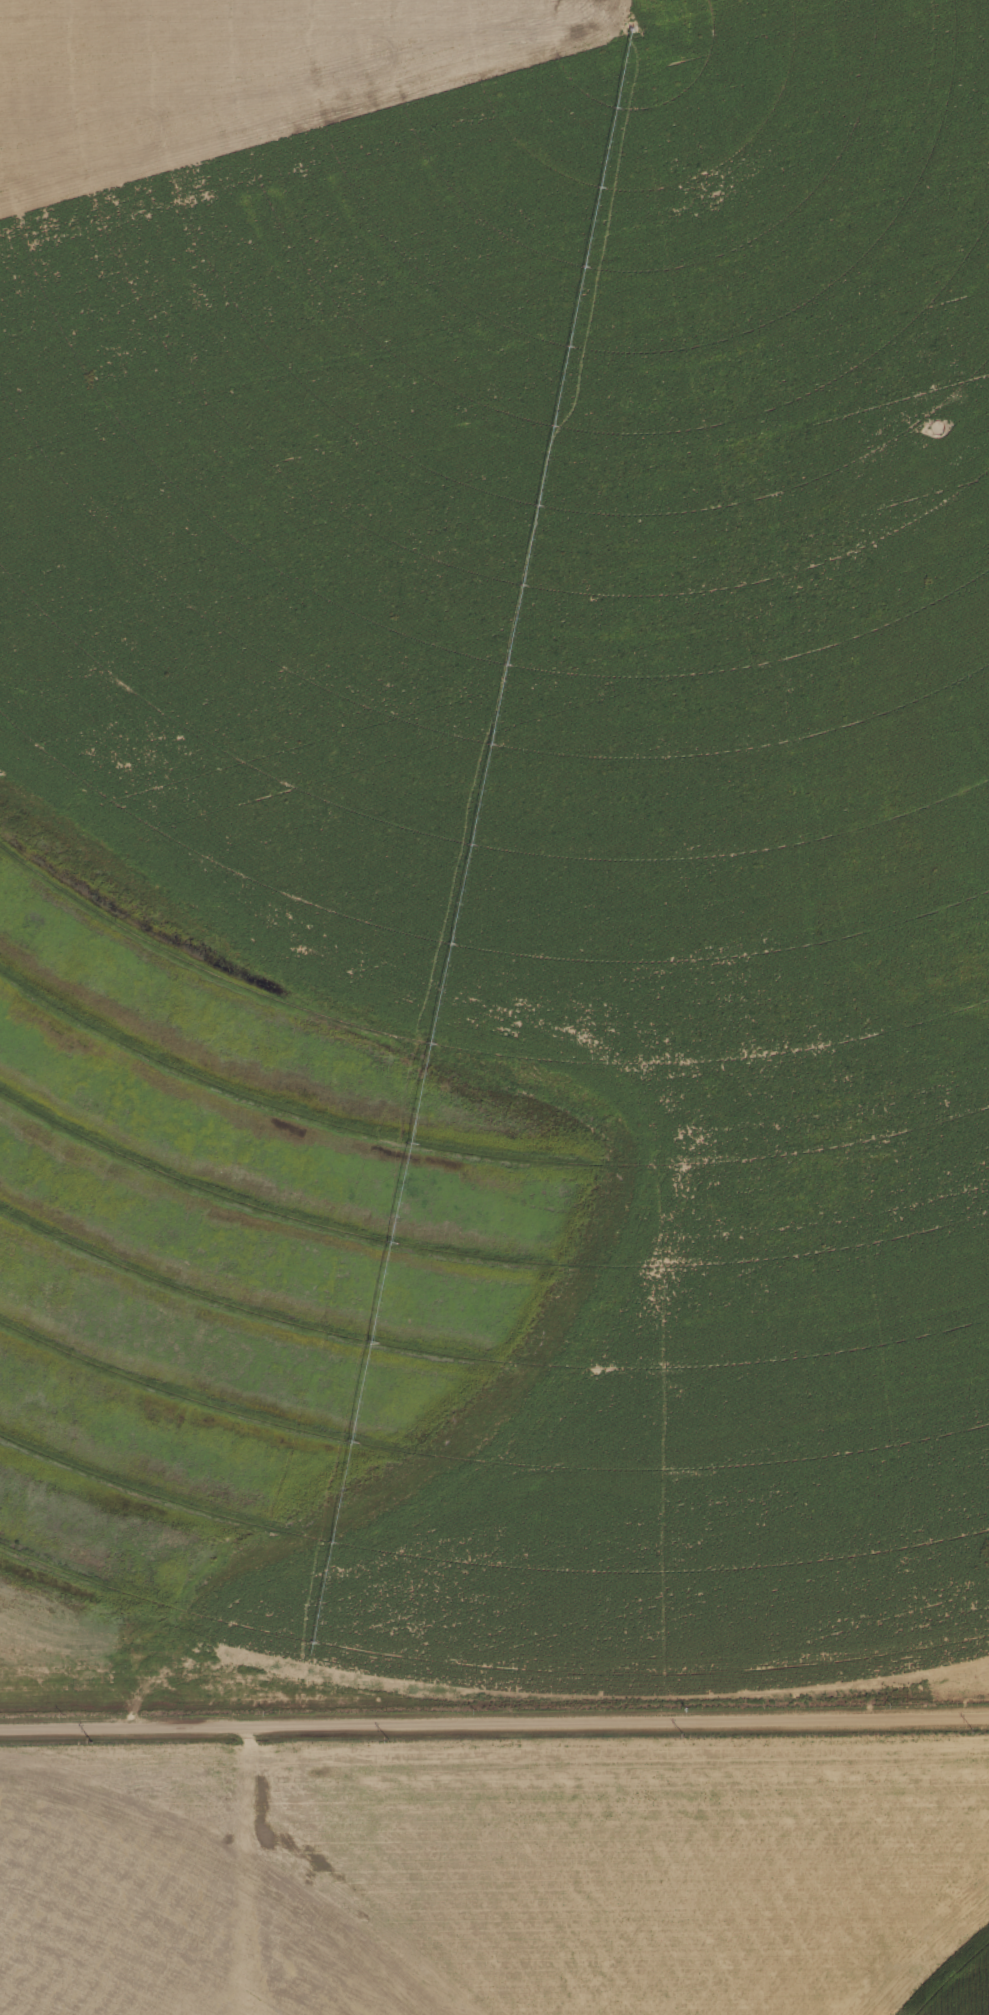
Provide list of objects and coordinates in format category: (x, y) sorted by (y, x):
road: (494, 1719)

